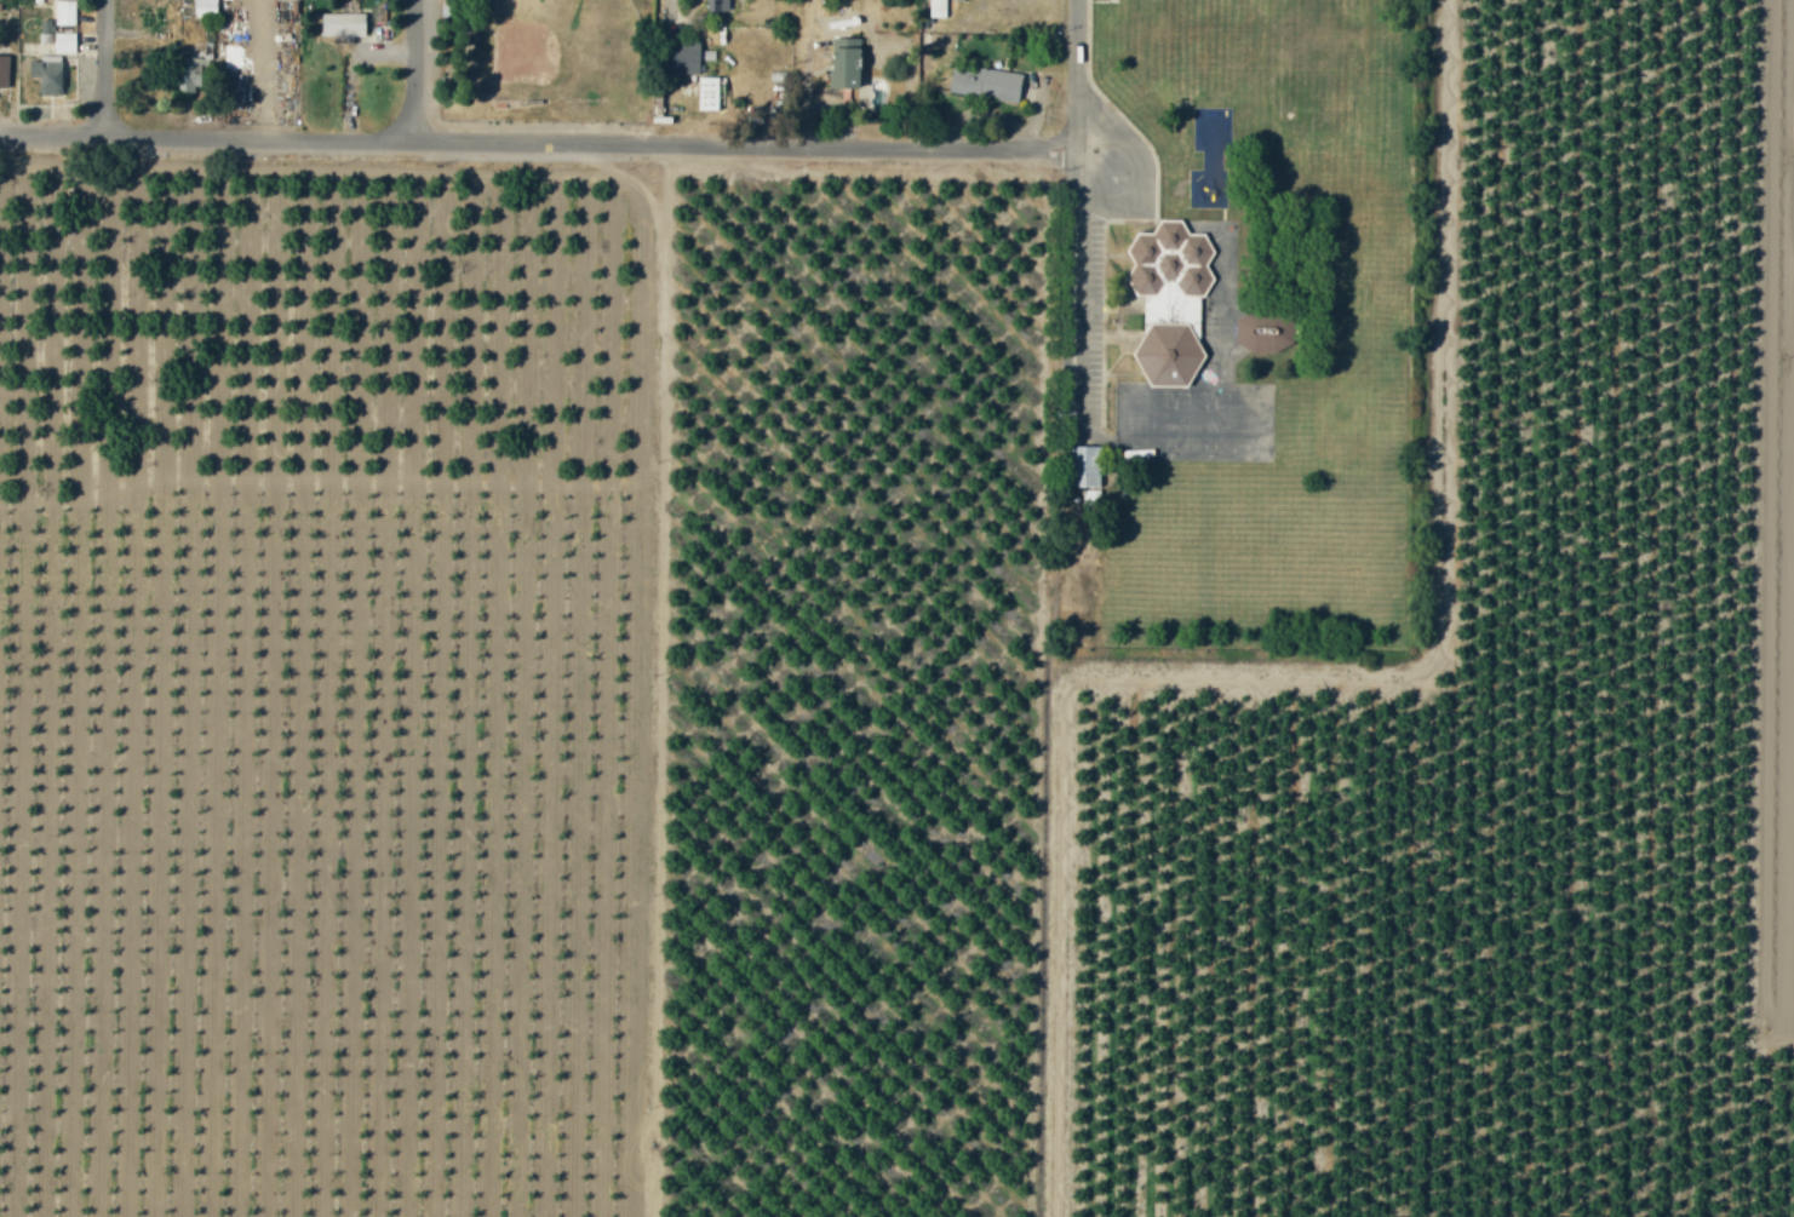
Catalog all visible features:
building: (716, 5)
building: (938, 7)
building: (204, 8)
building: (64, 12)
building: (342, 24)
building: (45, 30)
building: (63, 42)
building: (687, 47)
building: (684, 64)
building: (842, 67)
road: (109, 69)
building: (4, 70)
road: (418, 71)
building: (47, 74)
building: (188, 76)
building: (984, 82)
building: (706, 92)
road: (1084, 92)
road: (540, 144)
building: (1203, 186)
building: (1169, 300)
road: (1090, 305)
building: (1262, 333)
building: (1083, 466)
building: (1091, 496)

